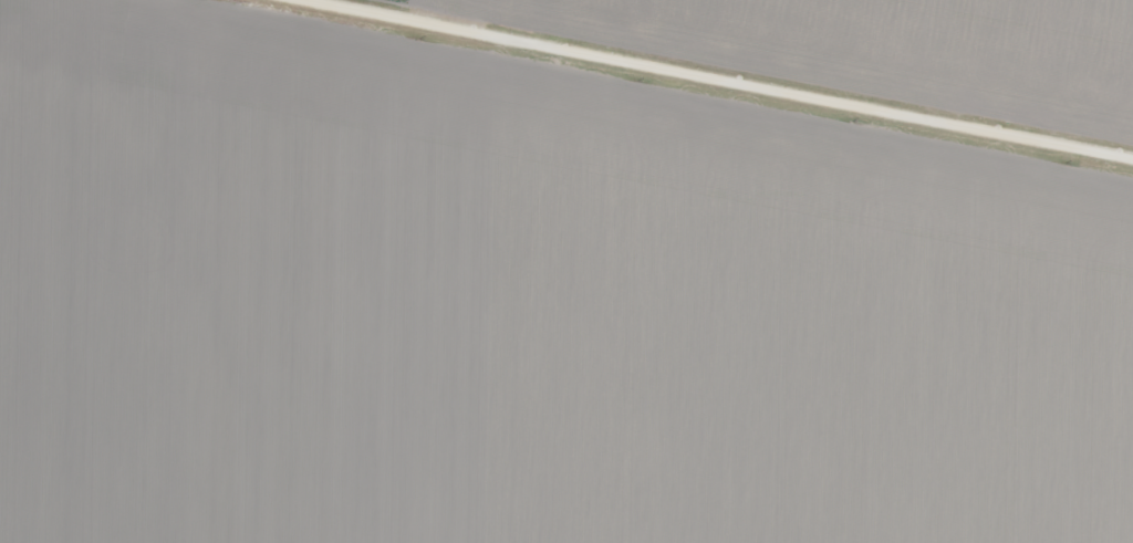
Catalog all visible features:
road: (701, 83)

